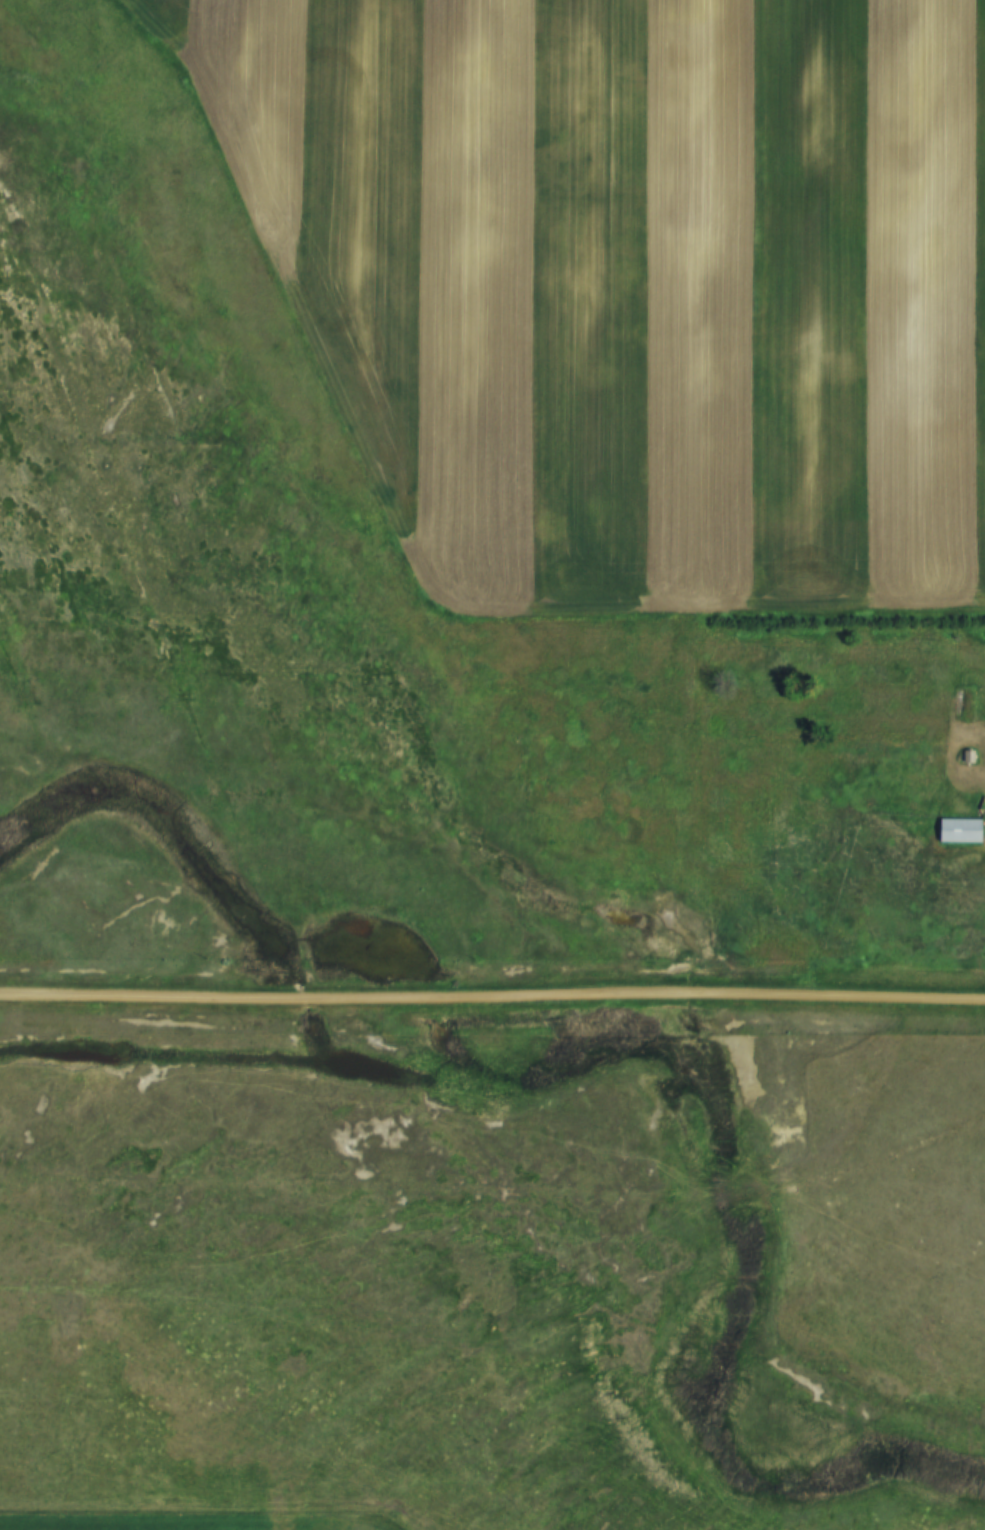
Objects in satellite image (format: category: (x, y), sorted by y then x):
road: (981, 453)
building: (967, 753)
building: (957, 828)
road: (492, 999)

